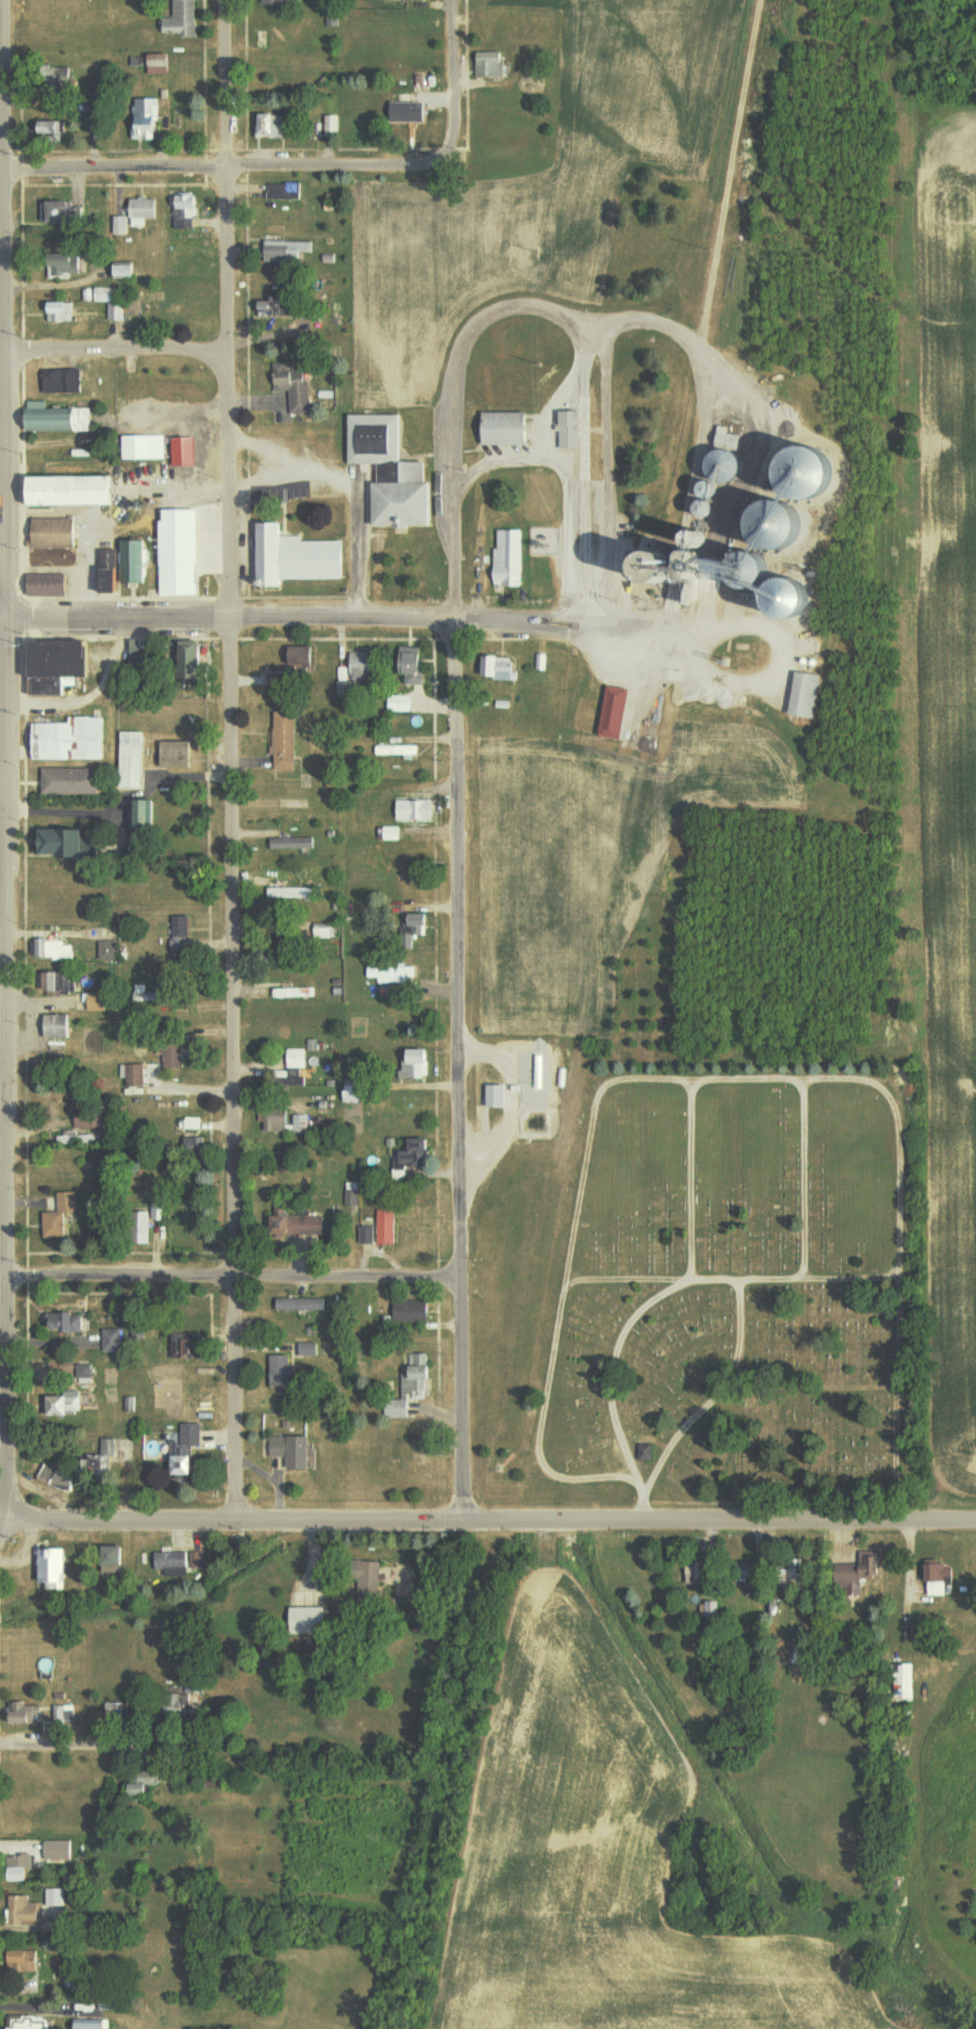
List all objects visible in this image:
building: (280, 1)
building: (183, 19)
building: (490, 63)
building: (160, 66)
road: (451, 81)
building: (410, 111)
building: (148, 119)
building: (272, 125)
building: (52, 131)
road: (221, 164)
crop: (540, 183)
building: (286, 190)
building: (144, 210)
building: (56, 211)
building: (186, 212)
building: (121, 225)
building: (287, 251)
building: (70, 263)
building: (127, 271)
building: (106, 300)
building: (276, 307)
road: (3, 308)
road: (229, 308)
building: (61, 310)
road: (116, 349)
road: (461, 378)
building: (63, 380)
building: (294, 385)
road: (560, 403)
building: (57, 418)
road: (704, 426)
building: (509, 428)
building: (572, 430)
road: (756, 446)
building: (147, 447)
road: (586, 447)
building: (185, 451)
building: (727, 459)
road: (524, 464)
building: (390, 471)
road: (357, 482)
building: (72, 491)
building: (52, 532)
building: (178, 555)
road: (586, 556)
building: (288, 558)
building: (509, 558)
road: (721, 564)
building: (124, 566)
road: (799, 569)
building: (684, 573)
building: (47, 585)
road: (1, 617)
road: (310, 617)
road: (25, 618)
road: (457, 630)
building: (194, 663)
building: (61, 665)
building: (293, 665)
building: (414, 665)
building: (502, 668)
road: (734, 677)
building: (805, 694)
building: (400, 703)
building: (616, 712)
building: (74, 739)
building: (285, 740)
building: (397, 749)
building: (175, 754)
building: (132, 760)
building: (73, 781)
crop: (942, 803)
building: (416, 810)
building: (143, 815)
building: (389, 833)
building: (293, 843)
building: (292, 892)
building: (416, 928)
building: (185, 936)
building: (54, 949)
building: (109, 951)
building: (394, 974)
building: (59, 982)
building: (153, 995)
building: (99, 1002)
building: (59, 1026)
building: (173, 1057)
building: (297, 1058)
building: (419, 1063)
road: (227, 1066)
road: (6, 1074)
building: (134, 1077)
road: (458, 1078)
road: (636, 1080)
road: (804, 1085)
road: (693, 1087)
building: (356, 1094)
building: (497, 1096)
building: (87, 1118)
building: (286, 1122)
building: (193, 1123)
building: (194, 1148)
building: (414, 1156)
road: (803, 1178)
building: (352, 1193)
road: (899, 1198)
building: (159, 1213)
building: (60, 1215)
building: (295, 1223)
building: (387, 1227)
building: (368, 1235)
road: (4, 1277)
road: (233, 1279)
road: (729, 1279)
park: (729, 1296)
building: (301, 1304)
building: (413, 1311)
building: (68, 1323)
building: (139, 1331)
building: (113, 1340)
building: (188, 1346)
building: (308, 1350)
building: (83, 1370)
building: (281, 1371)
building: (416, 1373)
road: (713, 1396)
building: (65, 1406)
building: (186, 1449)
building: (106, 1450)
building: (293, 1451)
road: (490, 1517)
building: (116, 1559)
building: (179, 1563)
building: (57, 1568)
building: (799, 1570)
building: (698, 1571)
building: (859, 1571)
building: (376, 1574)
building: (939, 1577)
building: (310, 1619)
building: (907, 1680)
building: (22, 1712)
building: (63, 1713)
road: (109, 1748)
building: (57, 1850)
building: (21, 1867)
crop: (599, 1882)
building: (25, 1911)
building: (25, 1960)
building: (36, 2024)
building: (93, 2024)

